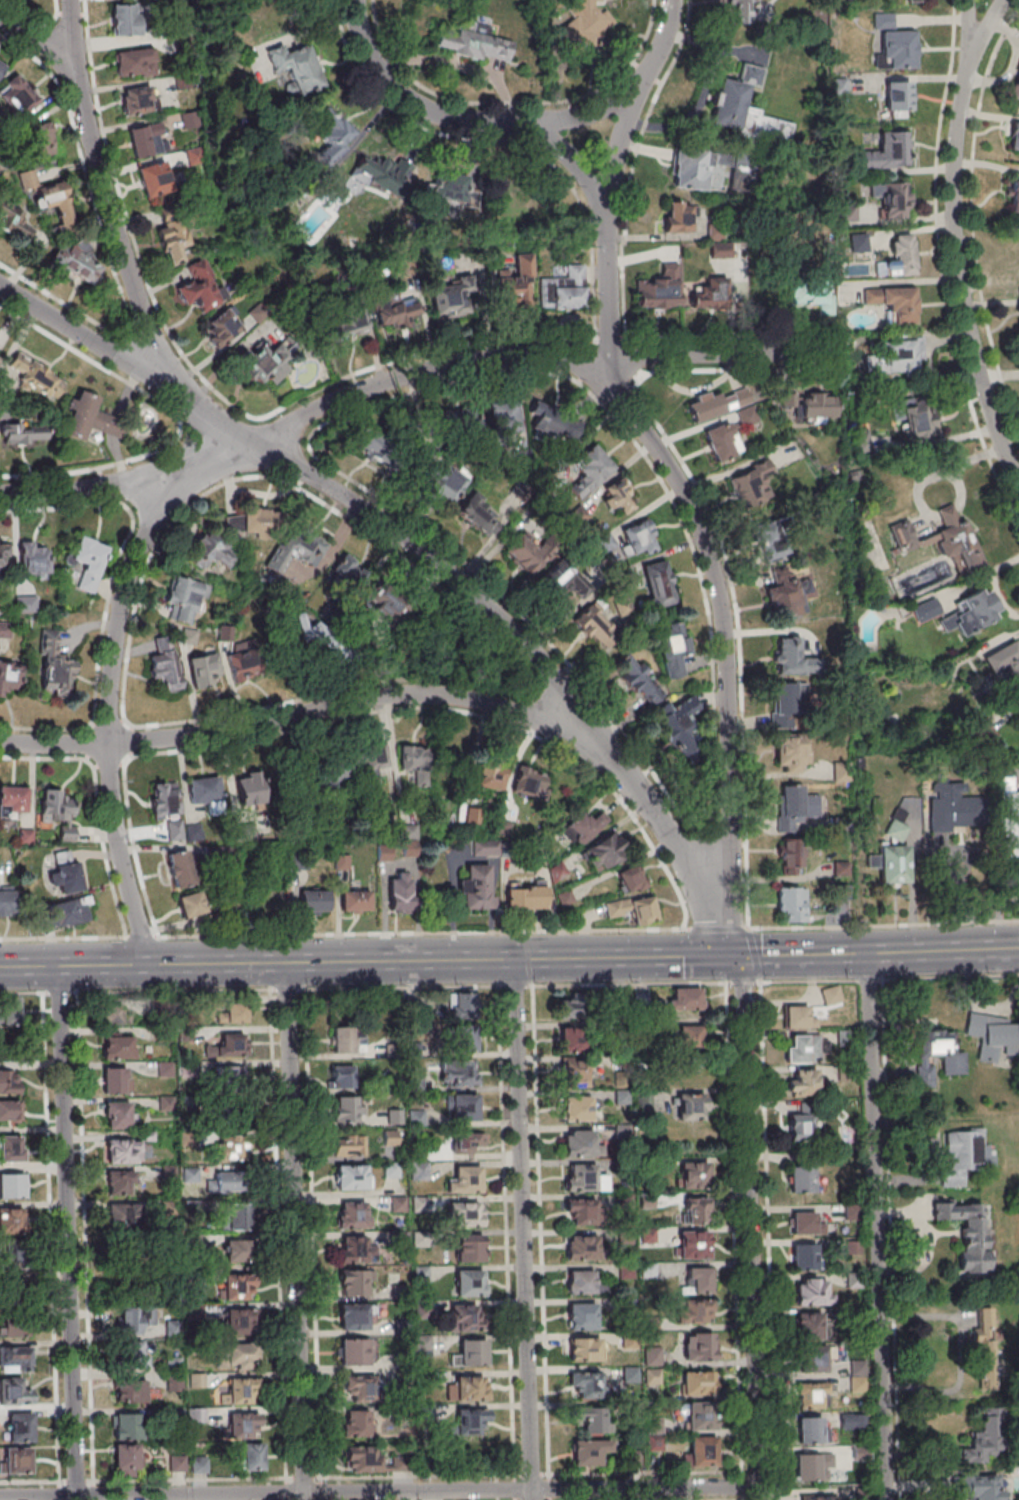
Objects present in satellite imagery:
building: (912, 0)
building: (743, 5)
building: (125, 19)
building: (883, 20)
building: (585, 21)
road: (972, 31)
road: (72, 36)
road: (681, 43)
building: (474, 44)
road: (38, 45)
building: (896, 49)
building: (134, 62)
building: (2, 68)
building: (296, 68)
road: (646, 71)
building: (839, 85)
building: (1016, 87)
building: (18, 97)
building: (897, 97)
building: (139, 100)
road: (512, 102)
building: (744, 107)
road: (589, 113)
road: (477, 121)
building: (336, 133)
building: (1014, 138)
building: (148, 139)
building: (837, 139)
building: (41, 140)
road: (500, 140)
building: (888, 151)
building: (690, 169)
building: (377, 173)
building: (155, 179)
building: (448, 187)
building: (53, 196)
building: (1015, 197)
building: (891, 201)
road: (604, 210)
building: (849, 214)
building: (677, 217)
building: (15, 223)
building: (174, 234)
road: (117, 239)
building: (859, 244)
road: (954, 245)
building: (898, 260)
building: (76, 263)
road: (940, 271)
building: (517, 283)
building: (200, 288)
building: (564, 289)
building: (660, 289)
building: (707, 294)
building: (807, 294)
building: (453, 301)
building: (894, 304)
building: (394, 310)
building: (348, 325)
building: (222, 327)
building: (896, 359)
building: (263, 364)
building: (37, 376)
road: (405, 376)
building: (719, 404)
building: (818, 406)
building: (80, 416)
building: (504, 417)
building: (748, 418)
building: (912, 419)
building: (458, 423)
building: (551, 426)
building: (23, 432)
building: (386, 440)
building: (861, 441)
building: (722, 443)
building: (590, 470)
road: (669, 470)
building: (855, 476)
building: (445, 484)
building: (754, 485)
building: (620, 495)
building: (479, 516)
building: (249, 522)
building: (638, 538)
building: (902, 539)
road: (407, 541)
building: (772, 541)
building: (606, 542)
building: (956, 546)
building: (296, 549)
building: (211, 551)
building: (4, 554)
road: (724, 554)
building: (525, 555)
building: (34, 559)
building: (88, 561)
road: (697, 562)
building: (347, 573)
building: (658, 584)
building: (788, 594)
building: (184, 598)
building: (385, 603)
building: (926, 611)
building: (970, 615)
building: (593, 624)
building: (436, 634)
building: (673, 648)
building: (330, 655)
building: (793, 657)
building: (54, 664)
building: (243, 664)
building: (163, 665)
building: (1005, 668)
building: (203, 669)
building: (631, 673)
building: (10, 677)
building: (789, 698)
road: (321, 710)
road: (106, 711)
road: (367, 713)
building: (683, 721)
building: (984, 732)
building: (792, 752)
building: (417, 756)
building: (369, 761)
building: (338, 772)
building: (491, 777)
building: (530, 781)
building: (1005, 783)
building: (252, 787)
building: (206, 793)
building: (164, 799)
building: (13, 800)
road: (98, 804)
building: (795, 807)
building: (953, 810)
building: (57, 811)
building: (584, 825)
building: (1008, 825)
building: (175, 829)
building: (895, 832)
building: (604, 851)
building: (790, 856)
building: (297, 862)
building: (890, 866)
building: (180, 868)
building: (64, 874)
building: (629, 879)
building: (476, 888)
building: (400, 891)
building: (526, 898)
building: (354, 901)
road: (960, 901)
building: (313, 902)
building: (792, 903)
building: (7, 904)
building: (192, 904)
building: (633, 908)
building: (66, 912)
road: (509, 931)
road: (942, 951)
road: (753, 955)
road: (800, 955)
traffic signals: (735, 956)
road: (367, 959)
road: (738, 969)
road: (889, 978)
road: (741, 982)
road: (624, 984)
road: (514, 985)
road: (400, 986)
road: (286, 989)
road: (173, 990)
road: (24, 992)
road: (59, 992)
building: (830, 993)
building: (463, 1003)
building: (571, 1008)
building: (11, 1012)
building: (235, 1012)
building: (115, 1013)
building: (799, 1017)
building: (689, 1036)
building: (992, 1037)
building: (573, 1040)
building: (348, 1041)
building: (118, 1045)
building: (231, 1046)
building: (803, 1048)
building: (953, 1064)
building: (165, 1069)
building: (458, 1073)
building: (577, 1075)
building: (342, 1076)
building: (228, 1077)
building: (115, 1080)
building: (9, 1082)
building: (802, 1083)
building: (690, 1106)
building: (464, 1107)
building: (577, 1108)
building: (347, 1109)
building: (9, 1110)
building: (117, 1114)
building: (232, 1115)
building: (799, 1126)
building: (188, 1139)
building: (468, 1141)
building: (578, 1143)
building: (348, 1145)
building: (232, 1146)
building: (11, 1148)
building: (123, 1151)
building: (963, 1155)
building: (419, 1171)
building: (695, 1173)
building: (351, 1176)
building: (801, 1177)
building: (584, 1178)
building: (465, 1180)
building: (232, 1181)
building: (120, 1182)
building: (12, 1185)
building: (696, 1209)
building: (579, 1211)
building: (466, 1214)
building: (351, 1215)
building: (122, 1216)
building: (236, 1216)
building: (11, 1221)
building: (806, 1223)
road: (875, 1226)
road: (522, 1228)
road: (294, 1230)
road: (66, 1232)
building: (971, 1235)
road: (733, 1241)
road: (749, 1241)
building: (694, 1244)
building: (469, 1247)
building: (580, 1247)
building: (237, 1251)
building: (352, 1251)
building: (804, 1256)
building: (12, 1257)
building: (144, 1265)
building: (698, 1280)
building: (353, 1282)
building: (469, 1282)
building: (580, 1282)
building: (237, 1288)
building: (12, 1289)
building: (813, 1292)
building: (694, 1311)
building: (352, 1316)
building: (581, 1316)
building: (463, 1317)
building: (135, 1318)
building: (241, 1321)
building: (14, 1324)
building: (809, 1325)
building: (422, 1343)
building: (699, 1347)
building: (984, 1347)
building: (585, 1349)
building: (353, 1352)
building: (471, 1353)
building: (238, 1354)
building: (134, 1355)
building: (16, 1357)
building: (812, 1359)
building: (774, 1375)
building: (698, 1382)
building: (174, 1383)
building: (586, 1385)
building: (359, 1388)
building: (471, 1388)
building: (132, 1391)
building: (241, 1391)
building: (14, 1392)
building: (814, 1395)
building: (700, 1417)
building: (470, 1420)
building: (587, 1420)
building: (356, 1423)
building: (243, 1425)
building: (656, 1425)
building: (20, 1426)
building: (126, 1426)
building: (814, 1430)
building: (983, 1432)
building: (589, 1451)
building: (703, 1451)
building: (252, 1456)
building: (363, 1458)
building: (128, 1460)
building: (15, 1462)
building: (811, 1468)
building: (981, 1487)
building: (710, 1489)
building: (600, 1491)
road: (378, 1492)
building: (817, 1499)

